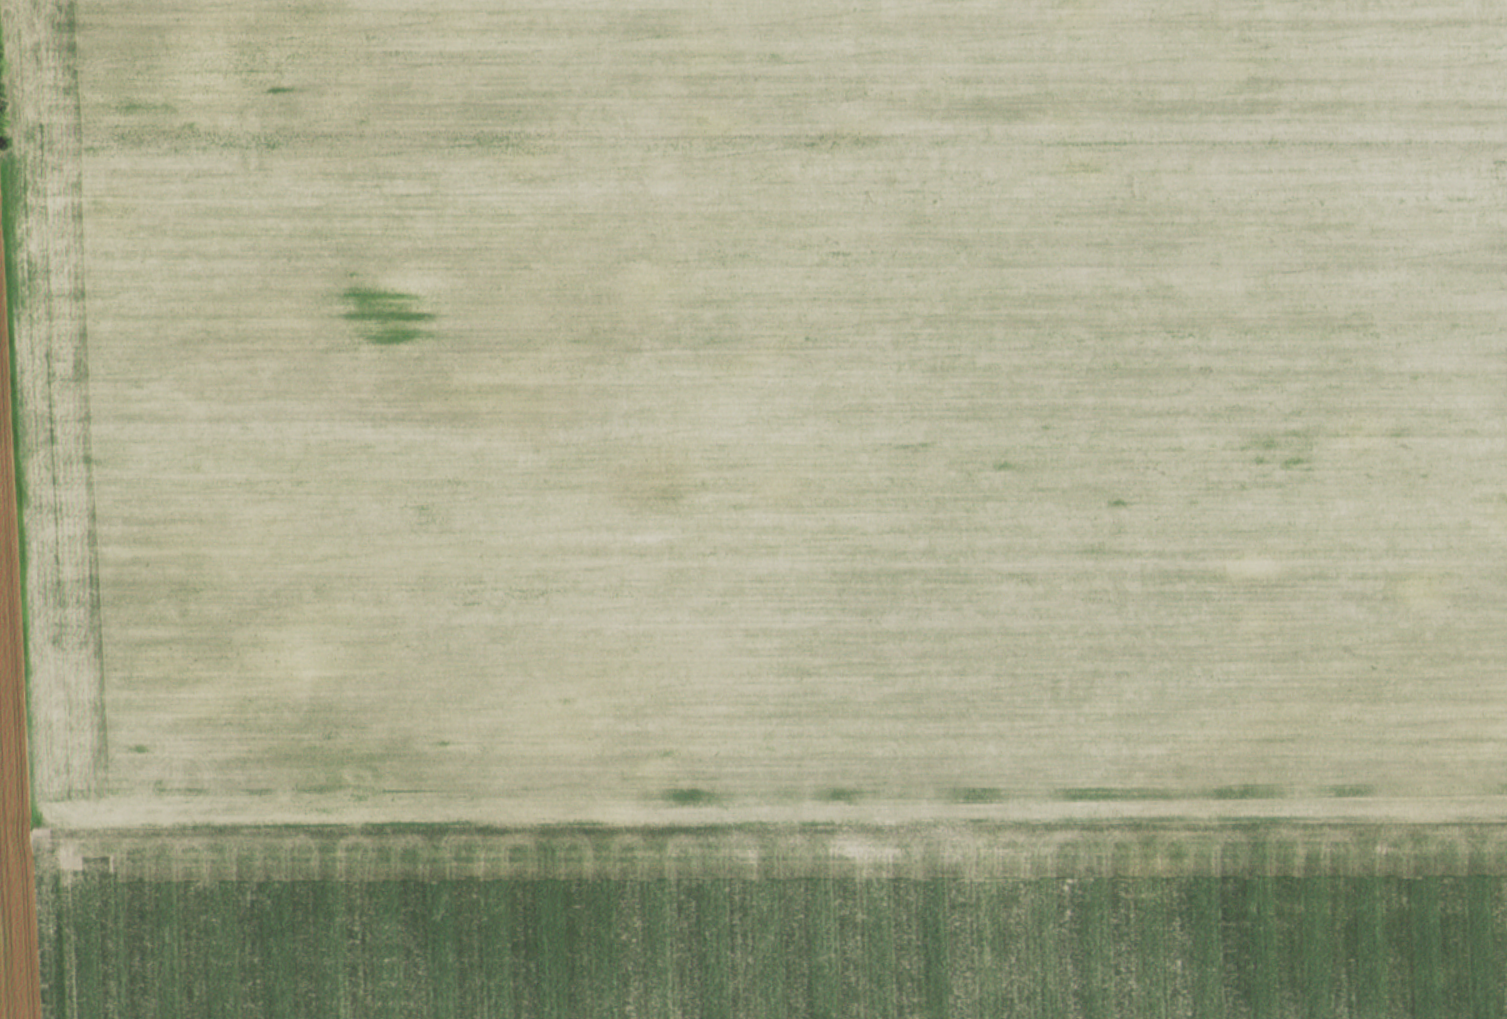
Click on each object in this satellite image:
crop: (753, 509)

